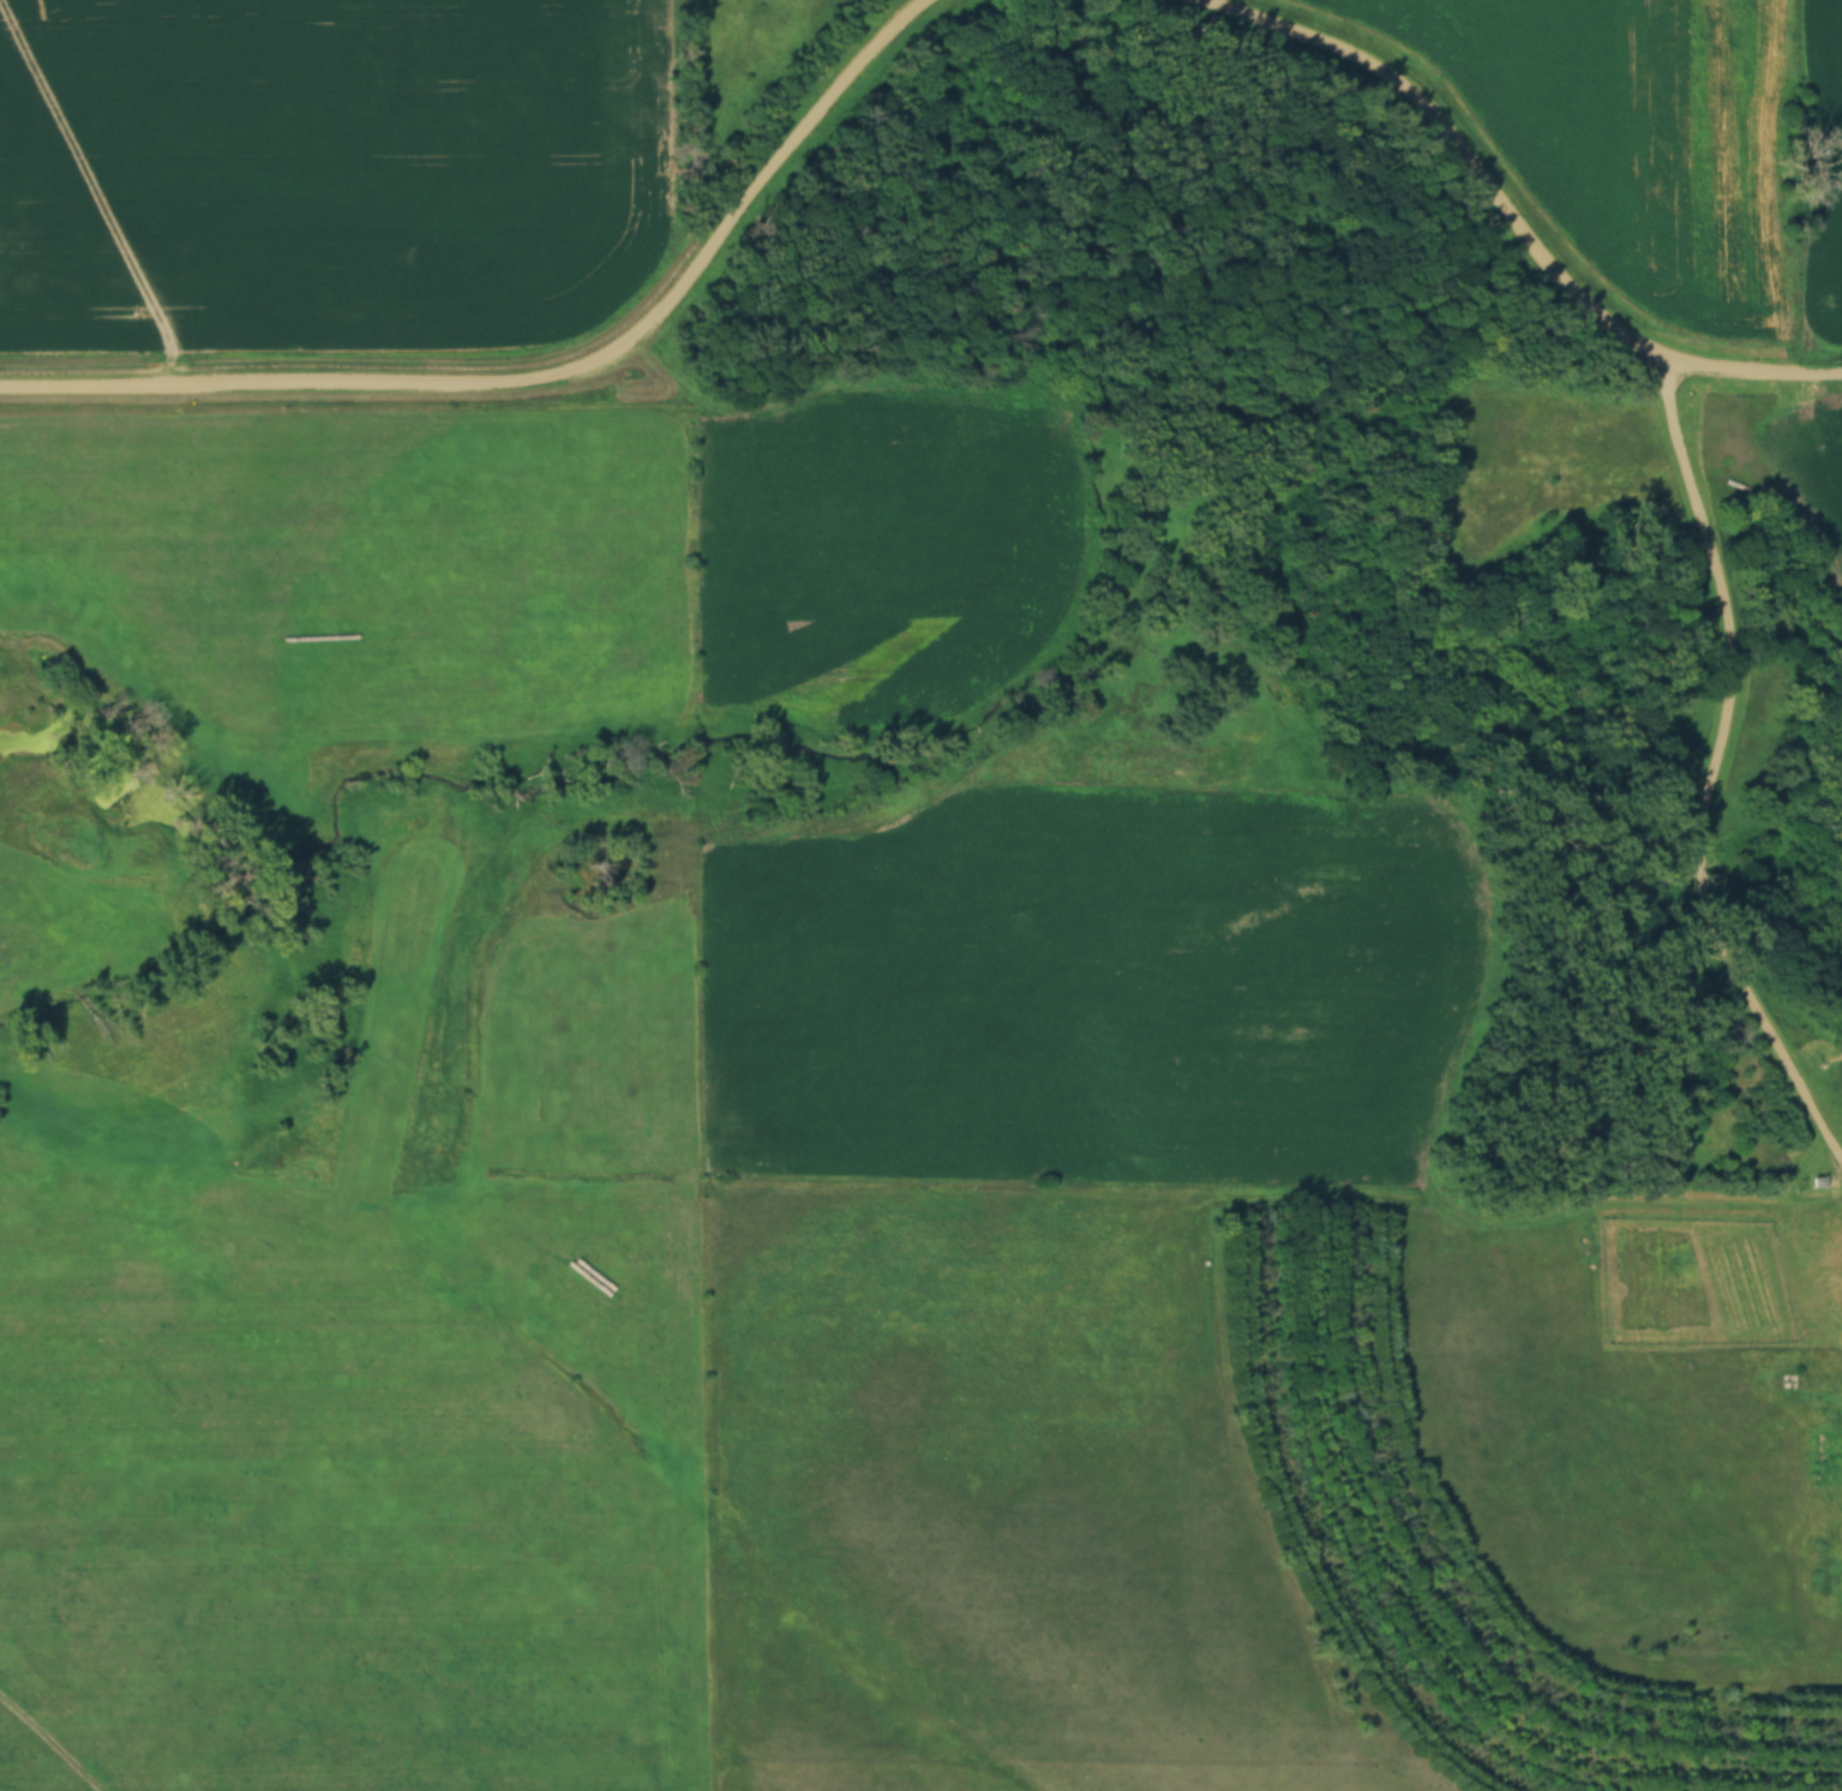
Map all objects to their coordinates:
road: (1525, 216)
road: (544, 375)
road: (1744, 742)
building: (1817, 1474)

